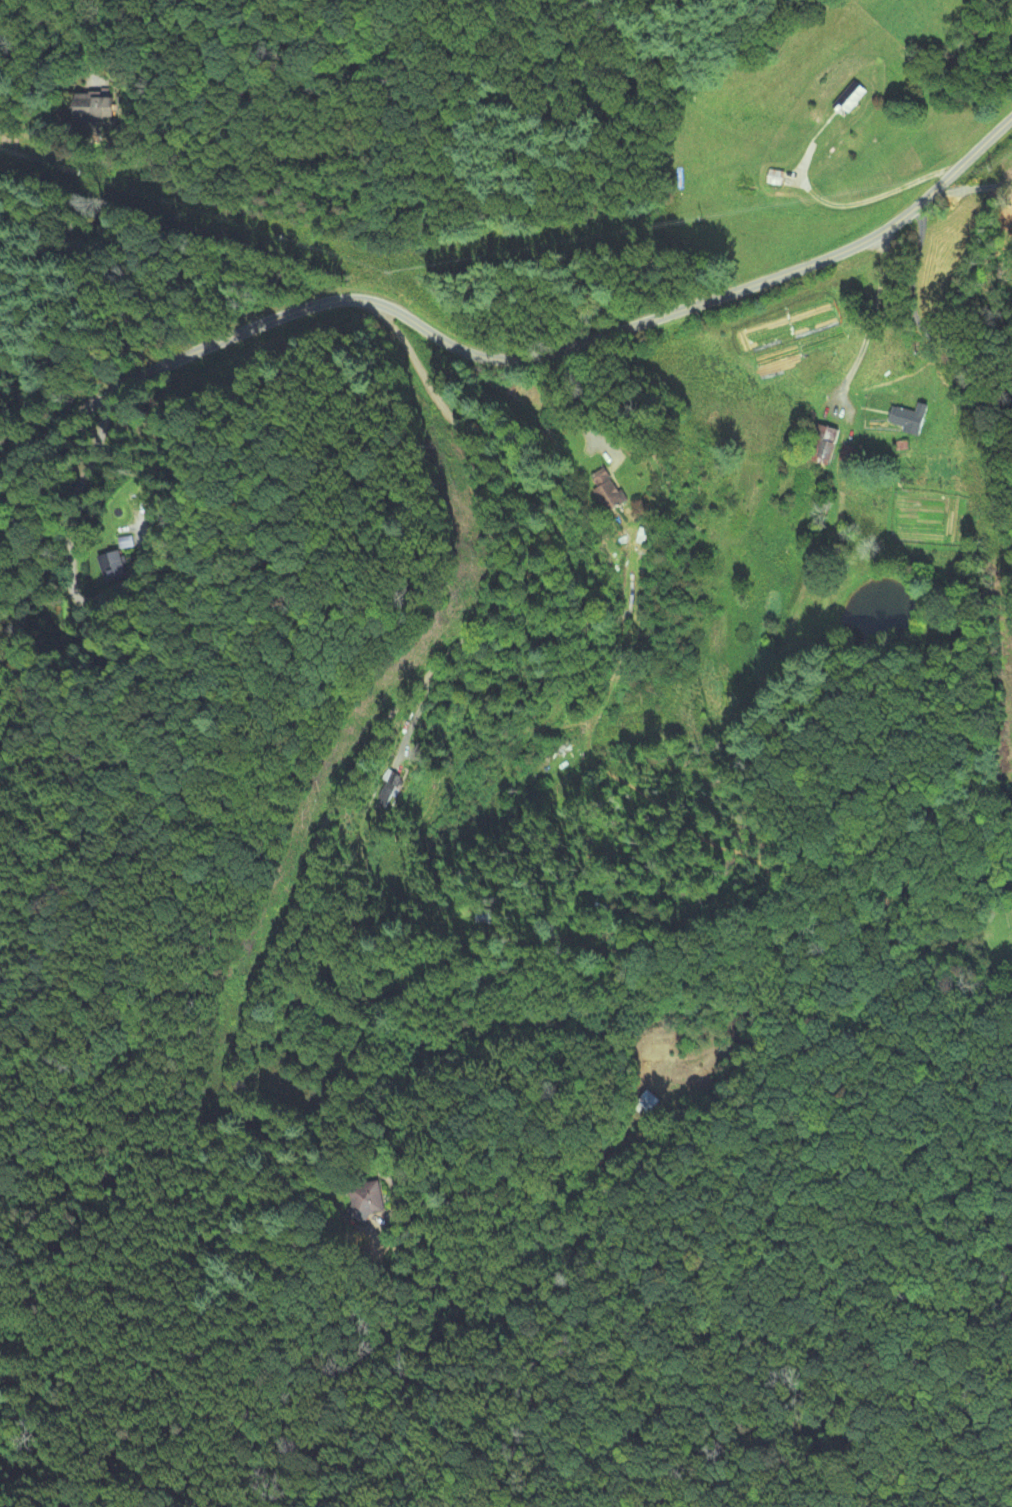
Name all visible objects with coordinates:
building: (95, 109)
road: (917, 323)
road: (513, 356)
road: (560, 404)
building: (908, 420)
building: (825, 446)
building: (608, 491)
building: (114, 565)
road: (358, 775)
building: (393, 784)
building: (649, 1102)
building: (367, 1201)

